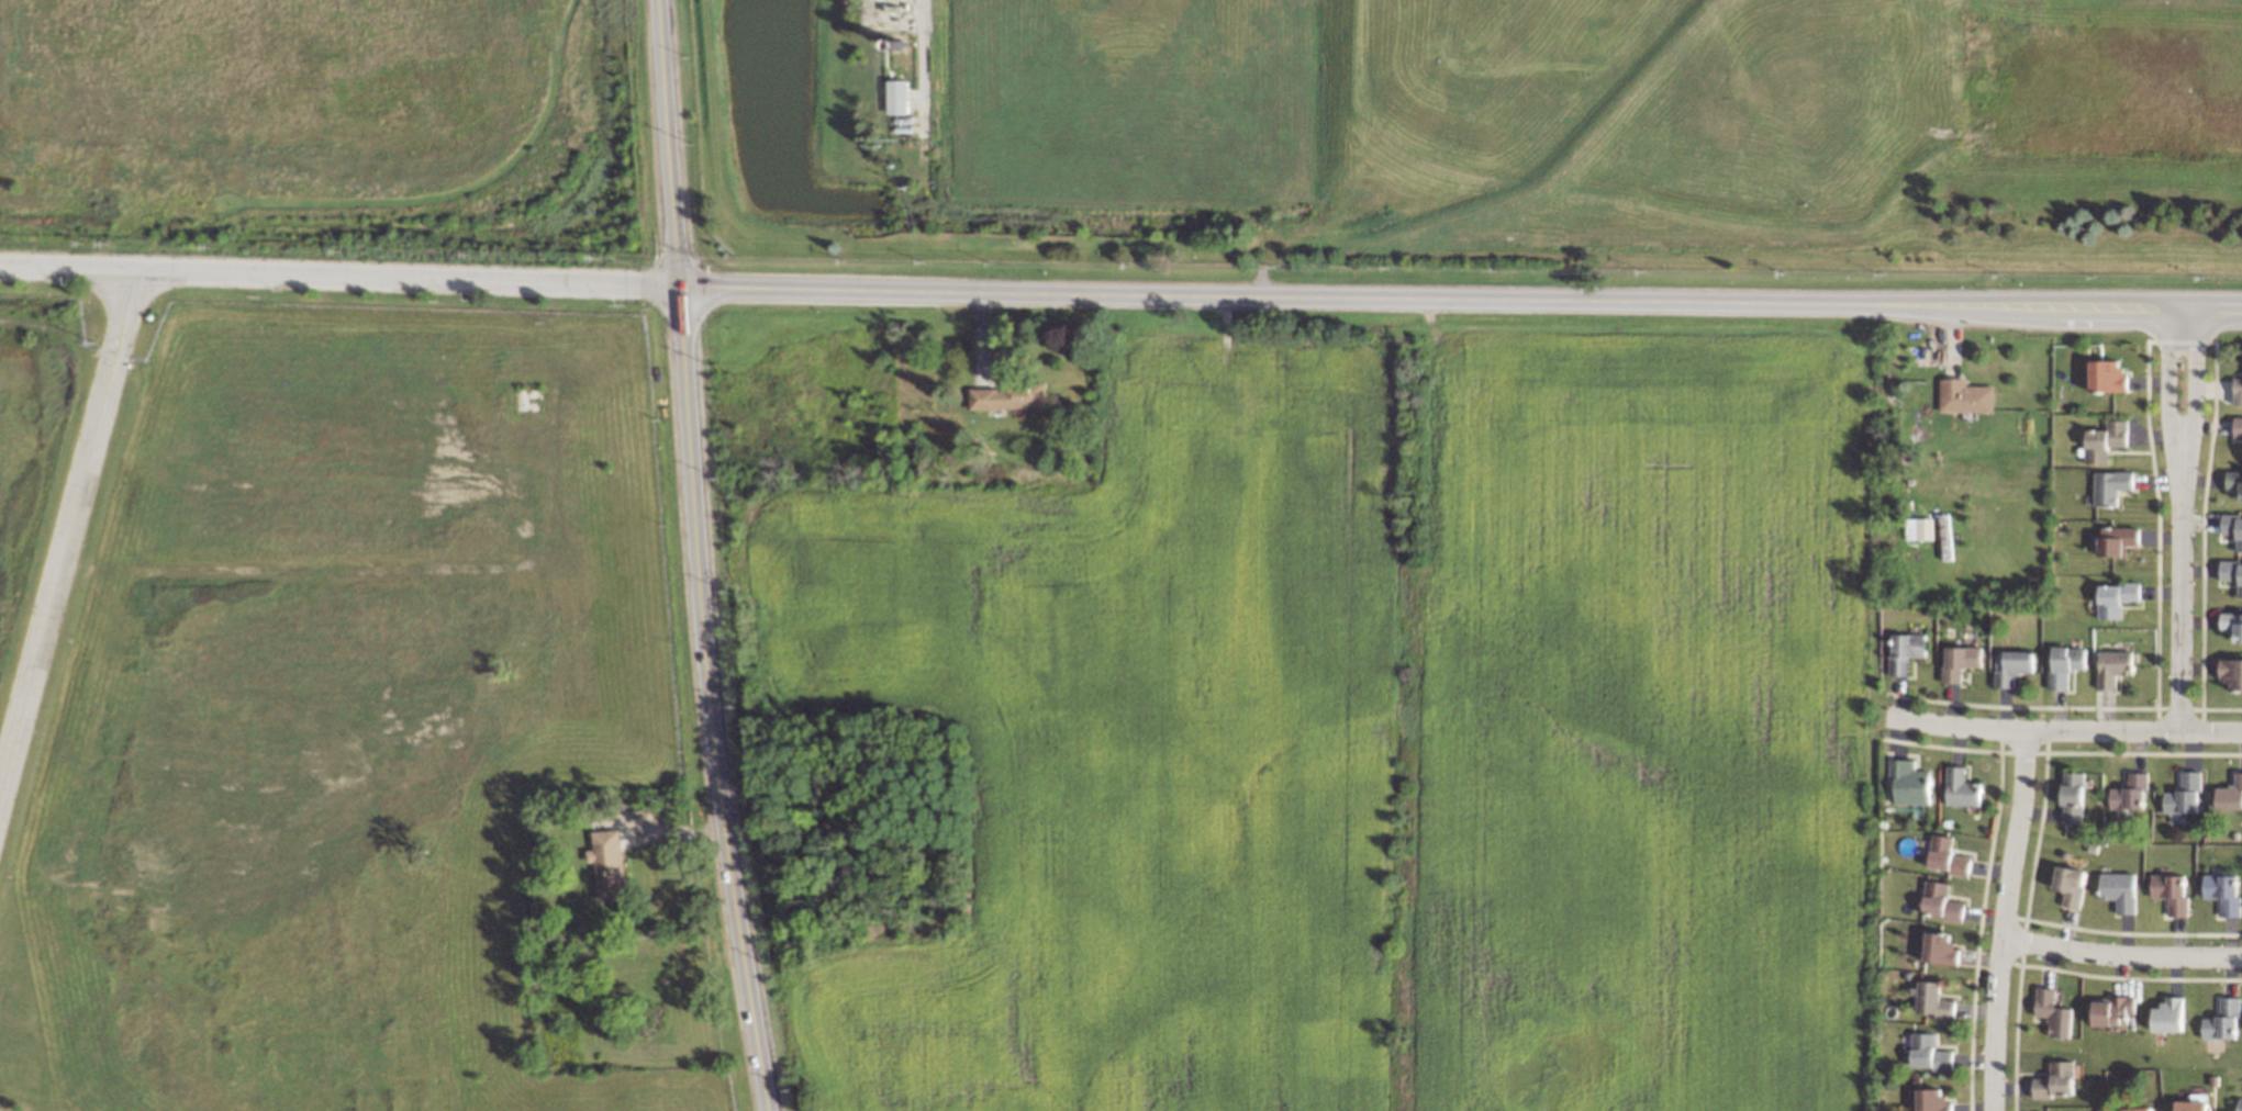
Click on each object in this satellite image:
road: (922, 57)
building: (899, 98)
landfill: (1642, 114)
road: (669, 142)
road: (1120, 293)
building: (2109, 375)
building: (2239, 391)
building: (1966, 395)
building: (1010, 396)
building: (528, 397)
building: (2239, 426)
building: (2107, 440)
building: (2235, 481)
building: (2112, 485)
road: (2183, 520)
building: (2233, 526)
building: (1920, 528)
road: (67, 530)
building: (2118, 540)
building: (2232, 573)
building: (2116, 597)
building: (2232, 625)
building: (1905, 651)
building: (1960, 661)
building: (2065, 665)
building: (2011, 666)
building: (2113, 666)
building: (2231, 672)
road: (710, 698)
road: (2063, 732)
building: (1910, 782)
building: (1961, 787)
building: (2130, 792)
building: (2185, 794)
building: (2230, 794)
building: (2073, 796)
building: (1947, 855)
building: (609, 863)
building: (2071, 884)
building: (2120, 889)
building: (2172, 891)
building: (2223, 891)
building: (1940, 901)
road: (2005, 921)
building: (1940, 949)
road: (2121, 953)
building: (1933, 999)
building: (2112, 1009)
building: (2053, 1012)
building: (2168, 1014)
building: (2223, 1020)
building: (1928, 1052)
building: (2055, 1080)
building: (1932, 1100)
building: (2195, 1102)
building: (2240, 1104)
building: (2139, 1109)

